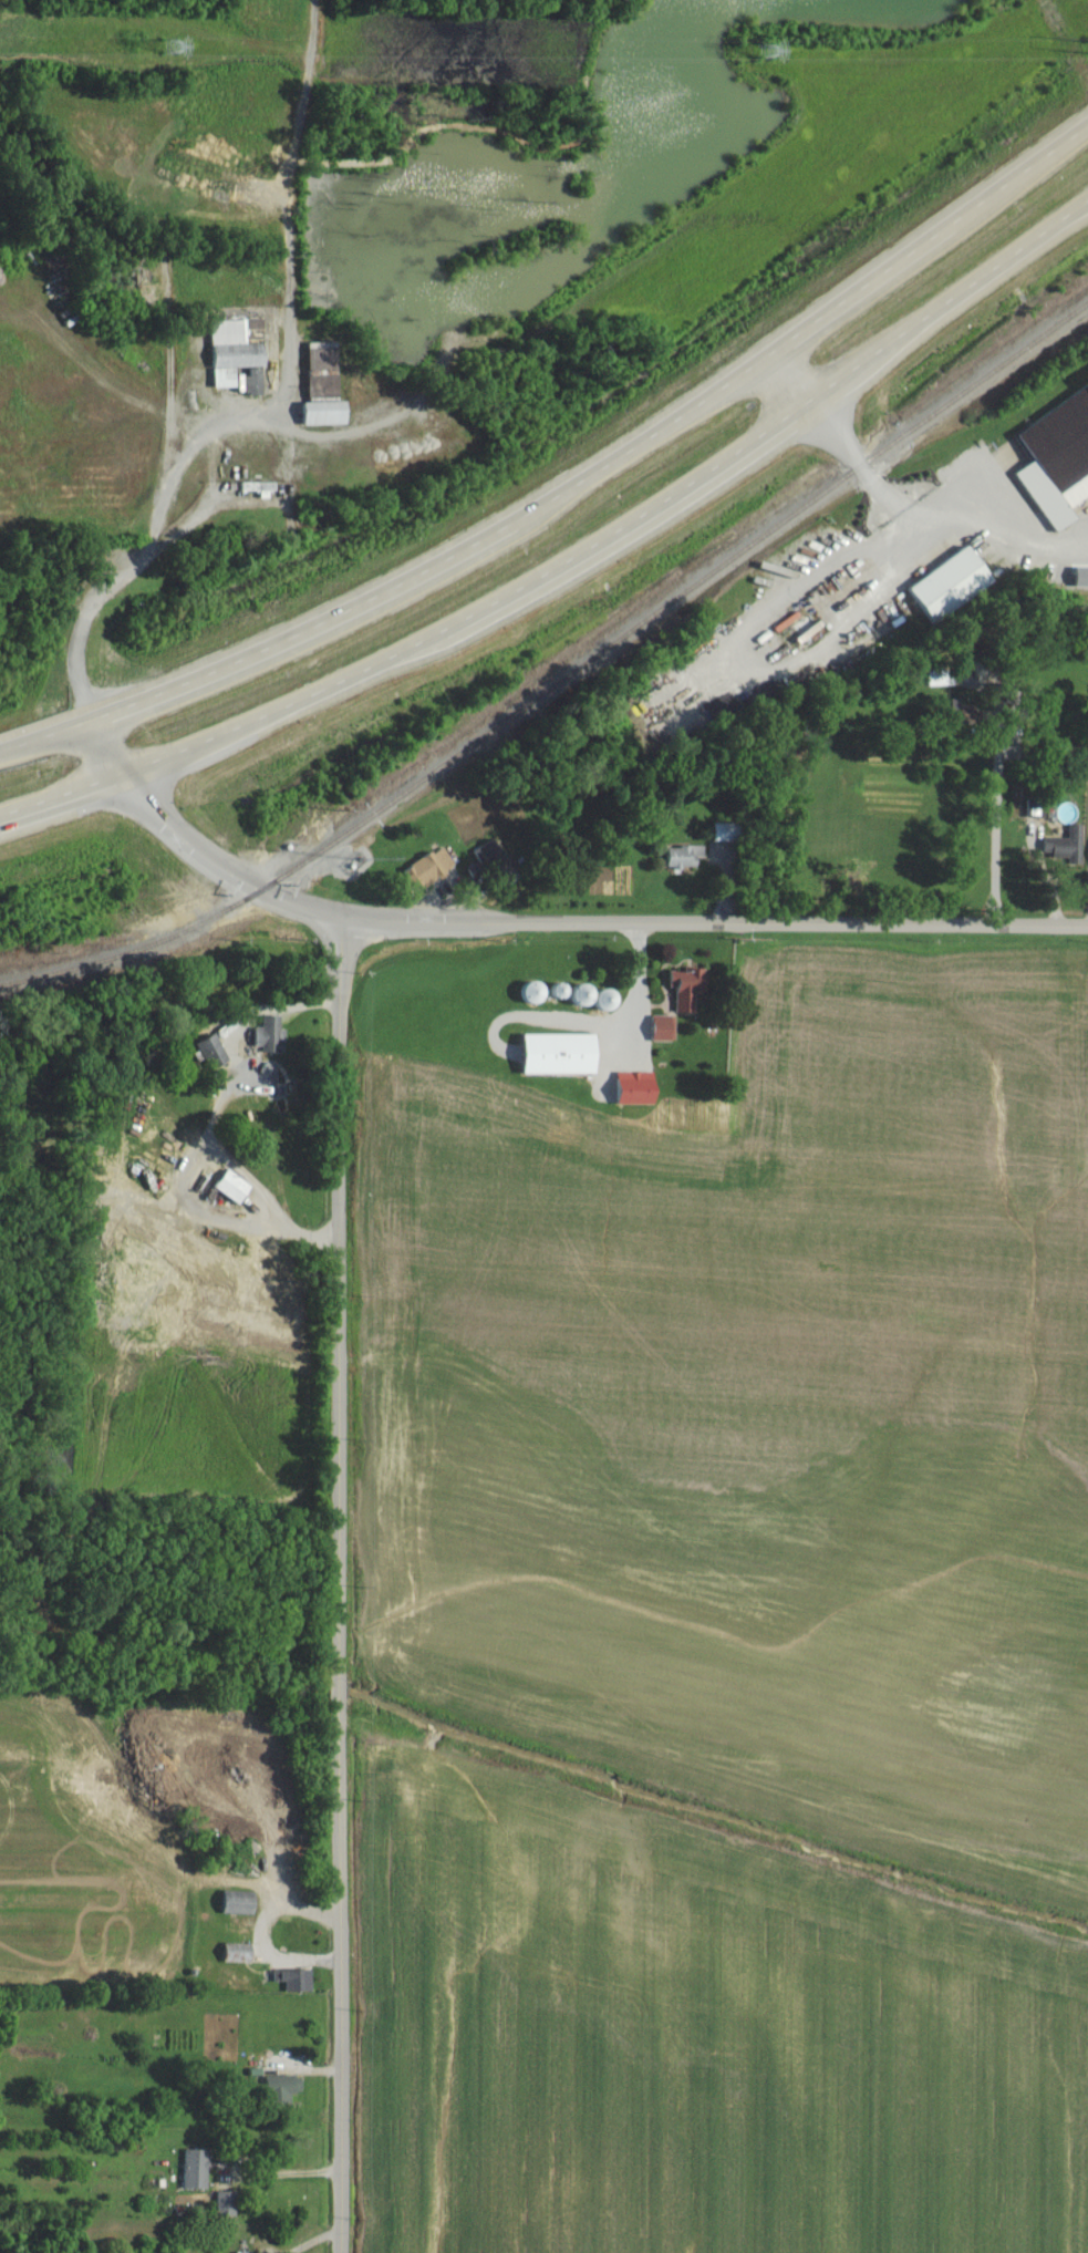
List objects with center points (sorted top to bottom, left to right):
power tower: (1080, 50)
power tower: (172, 58)
power tower: (767, 64)
building: (241, 355)
building: (325, 356)
building: (330, 412)
road: (213, 433)
building: (1060, 461)
building: (262, 488)
road: (570, 489)
road: (893, 492)
road: (569, 558)
building: (1082, 577)
building: (953, 583)
road: (83, 620)
railway: (561, 678)
building: (943, 678)
building: (1038, 808)
road: (998, 812)
building: (729, 831)
building: (1069, 845)
building: (685, 857)
building: (490, 859)
building: (429, 869)
road: (549, 920)
building: (691, 988)
road: (640, 992)
building: (665, 1029)
building: (273, 1035)
building: (216, 1053)
building: (564, 1054)
building: (639, 1088)
building: (236, 1186)
road: (335, 1584)
building: (243, 1904)
building: (299, 1980)
building: (286, 2087)
building: (198, 2169)
road: (278, 2170)
building: (229, 2203)
road: (310, 2243)

